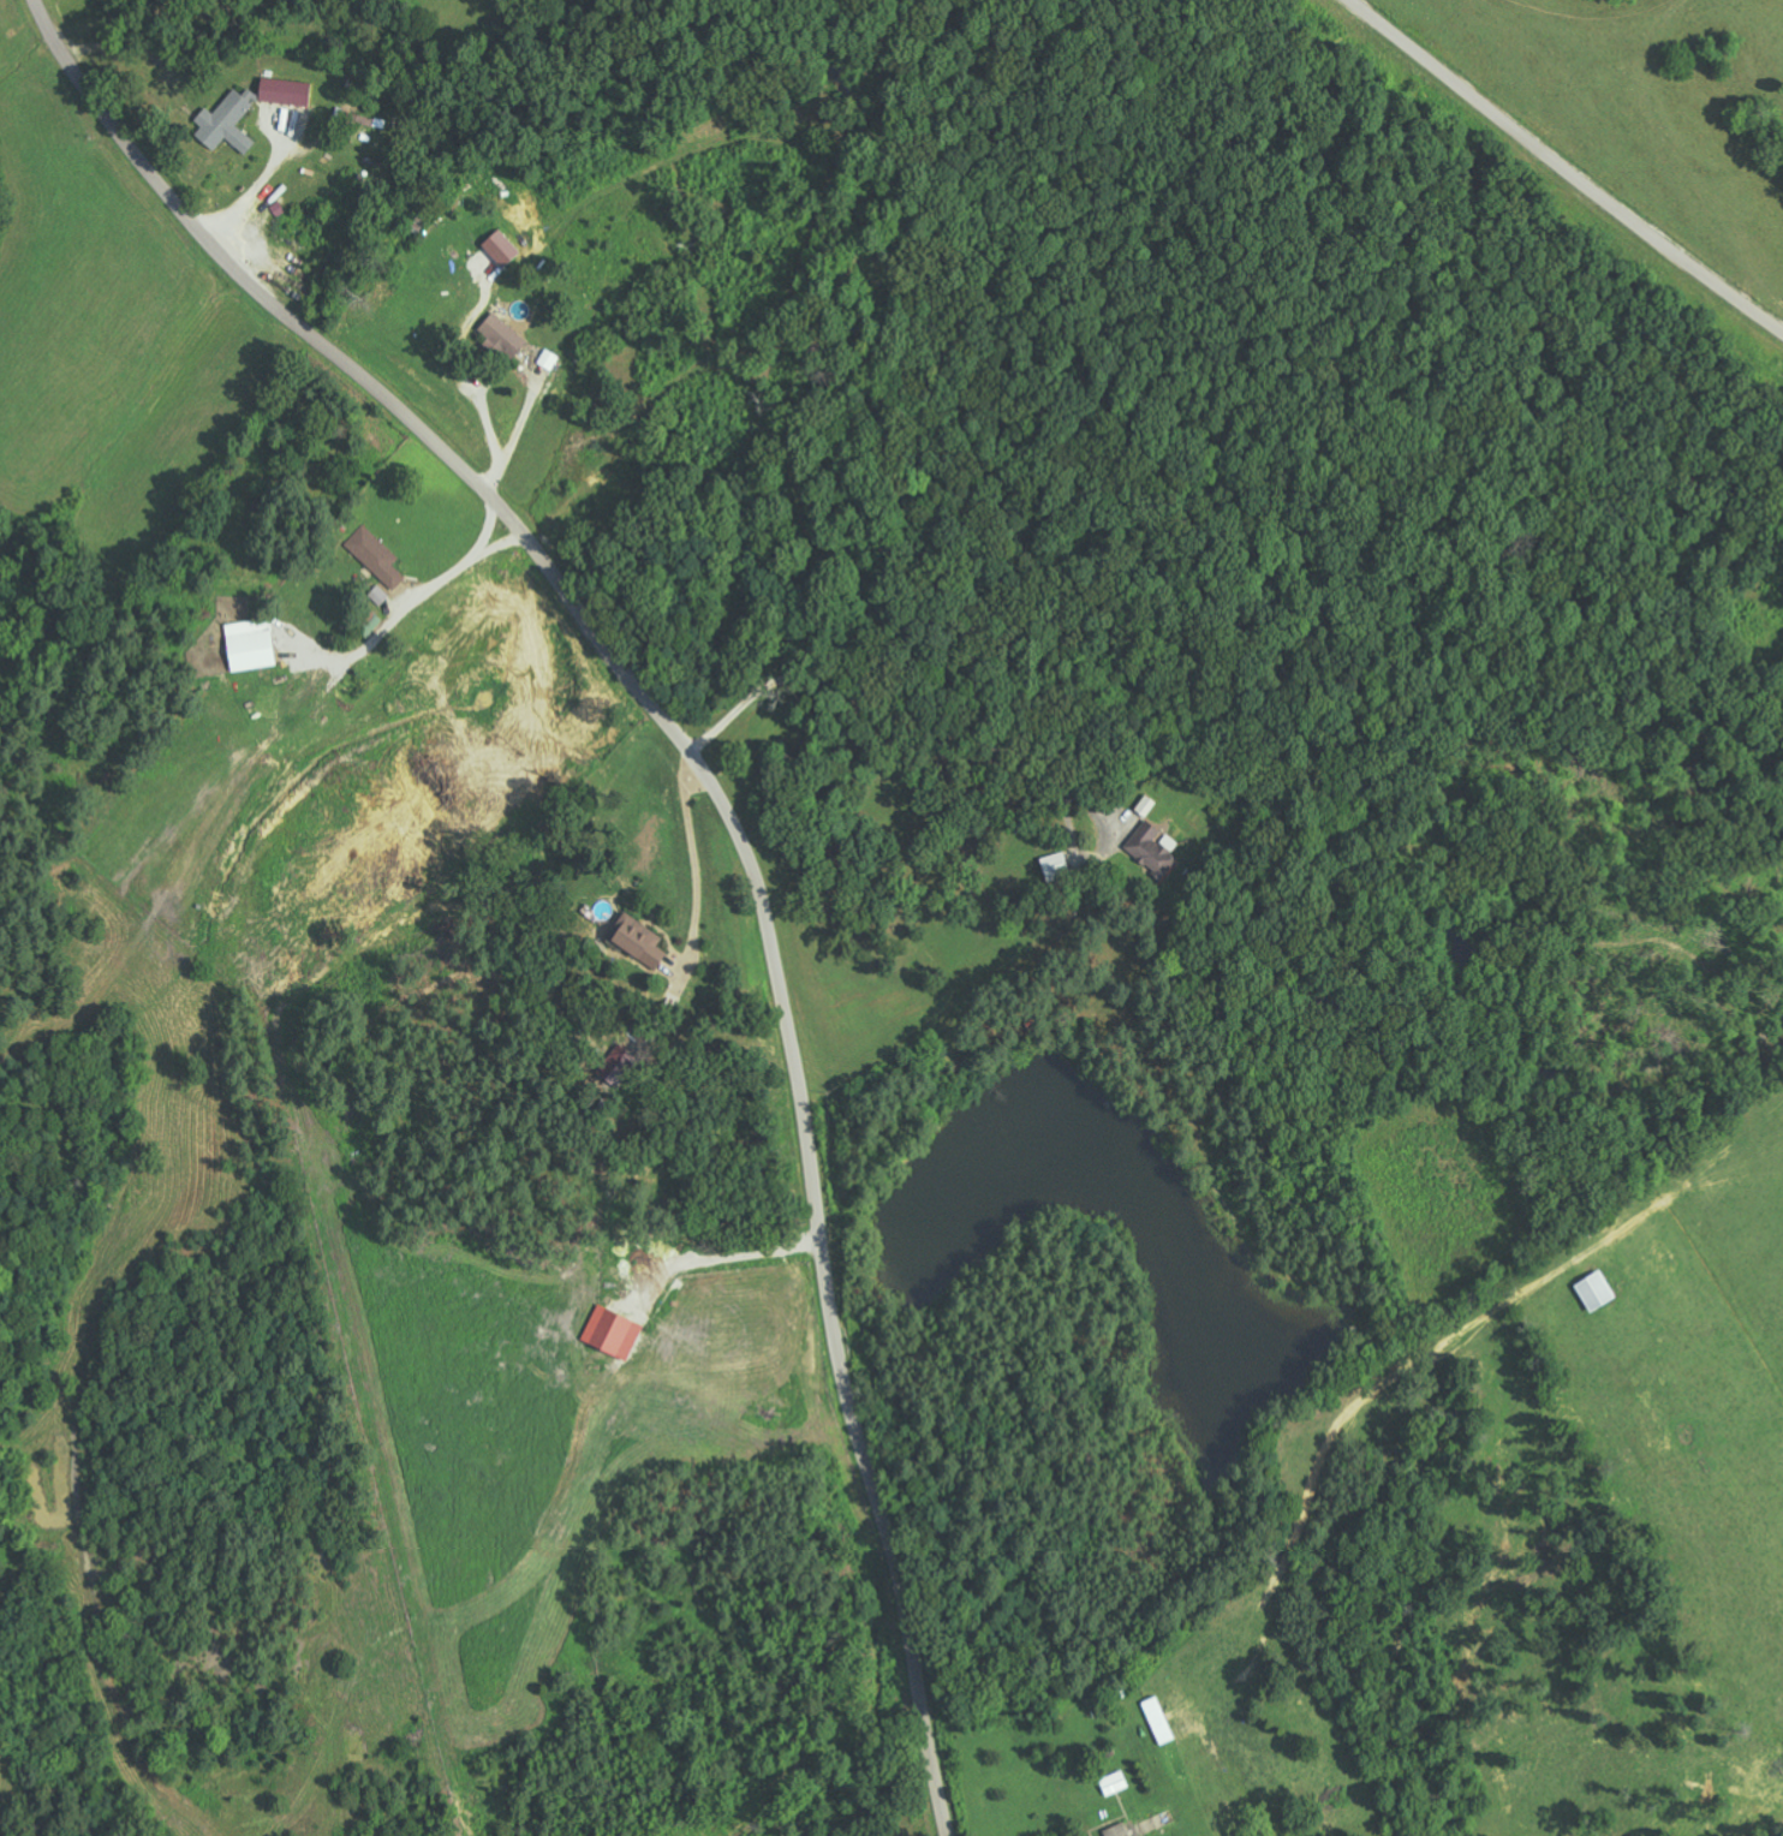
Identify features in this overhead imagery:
building: (285, 91)
building: (226, 123)
road: (1549, 165)
building: (501, 248)
building: (502, 336)
building: (376, 556)
building: (378, 596)
building: (366, 622)
building: (251, 644)
road: (724, 800)
building: (1146, 805)
building: (1153, 850)
road: (688, 862)
building: (640, 942)
building: (1597, 1292)
building: (608, 1330)
building: (1119, 1830)

